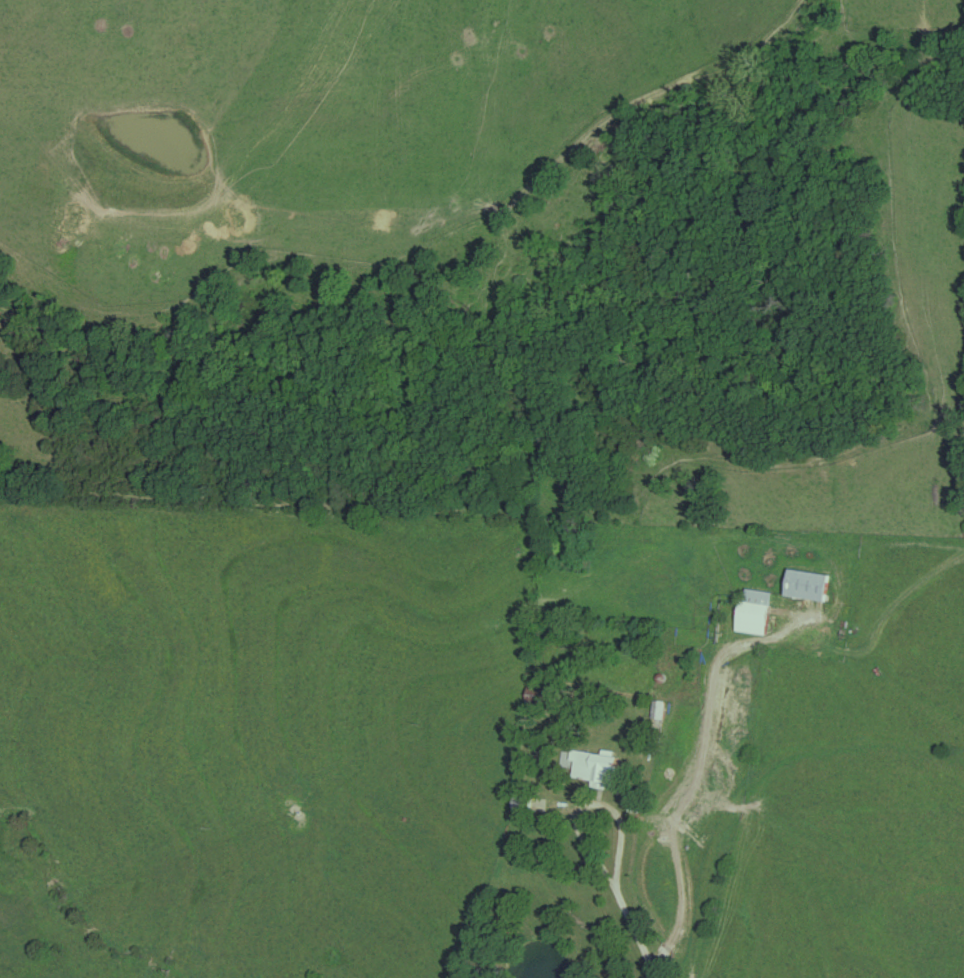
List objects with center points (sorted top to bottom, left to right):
building: (805, 586)
building: (752, 612)
building: (656, 714)
road: (696, 766)
building: (592, 768)
road: (587, 804)
road: (632, 933)

